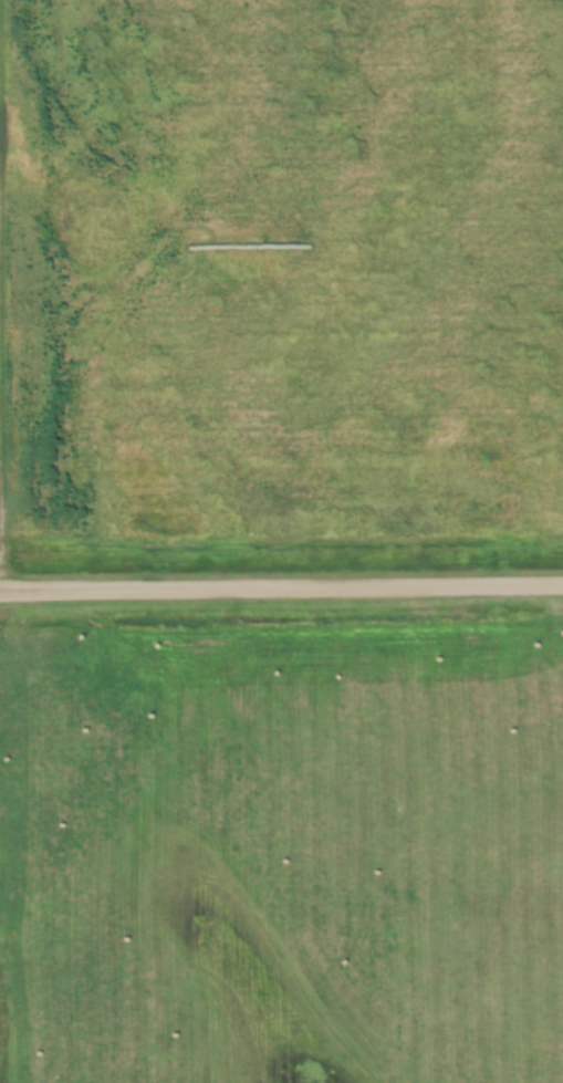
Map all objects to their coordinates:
road: (281, 583)

